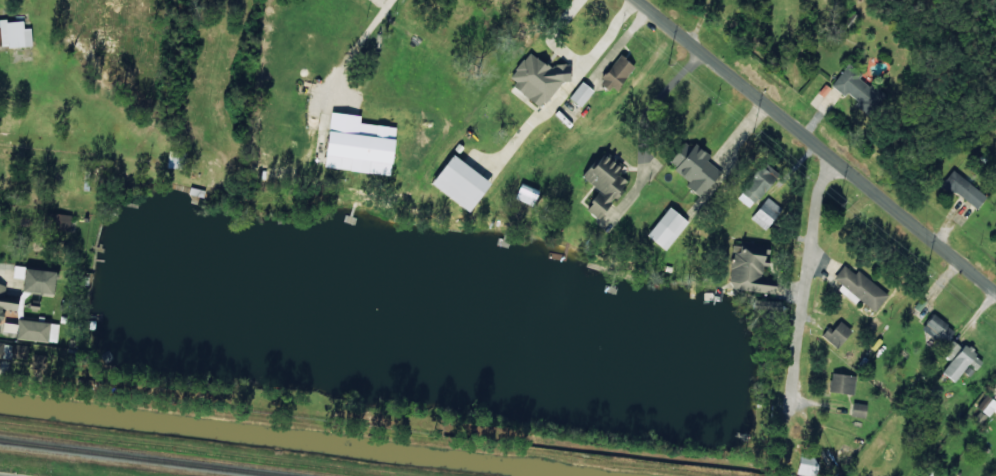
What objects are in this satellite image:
building: (14, 34)
road: (359, 41)
building: (617, 73)
building: (538, 78)
building: (854, 87)
building: (581, 94)
road: (532, 113)
road: (819, 143)
building: (359, 145)
building: (644, 155)
building: (176, 159)
building: (694, 167)
building: (758, 182)
building: (460, 183)
building: (605, 183)
building: (964, 189)
building: (527, 194)
building: (766, 213)
building: (58, 221)
building: (667, 228)
building: (749, 268)
building: (19, 272)
road: (4, 275)
building: (40, 281)
road: (797, 281)
building: (861, 288)
building: (6, 301)
building: (769, 305)
building: (938, 329)
building: (33, 330)
building: (836, 334)
building: (950, 349)
building: (962, 362)
building: (842, 383)
building: (987, 405)
building: (859, 410)
railway: (141, 458)
building: (807, 466)
building: (928, 472)

